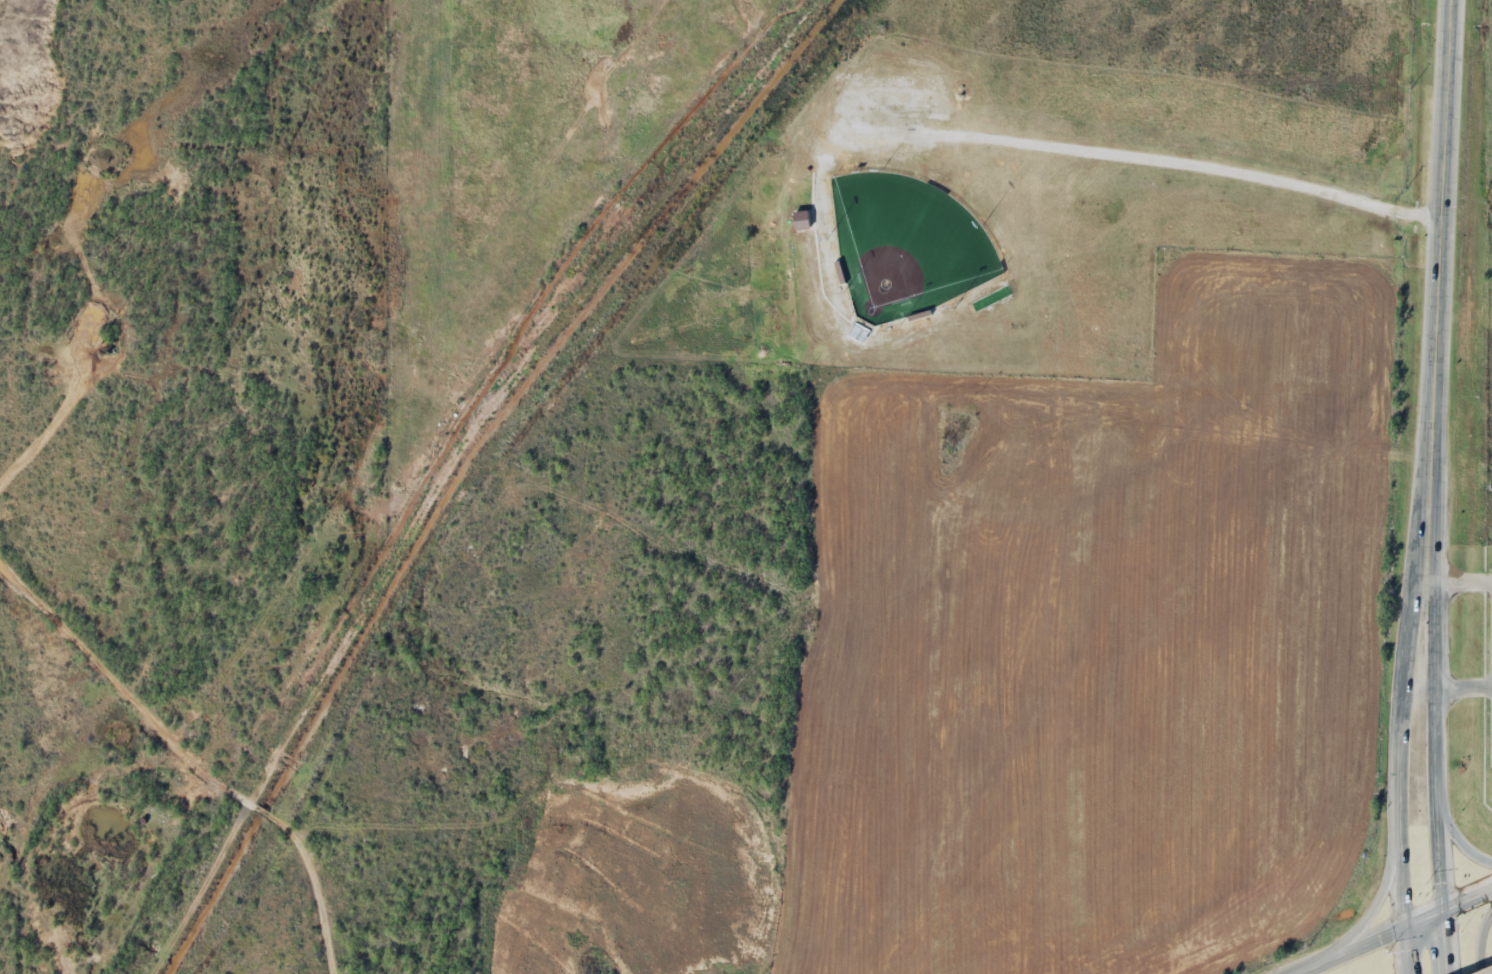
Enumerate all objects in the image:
road: (1444, 237)
road: (1433, 694)
road: (1401, 701)
road: (1457, 836)
road: (1373, 906)
road: (1448, 910)
traffic signals: (1442, 913)
traffic signals: (1405, 930)
road: (1479, 940)
road: (1443, 943)
road: (1352, 951)
road: (1406, 952)

